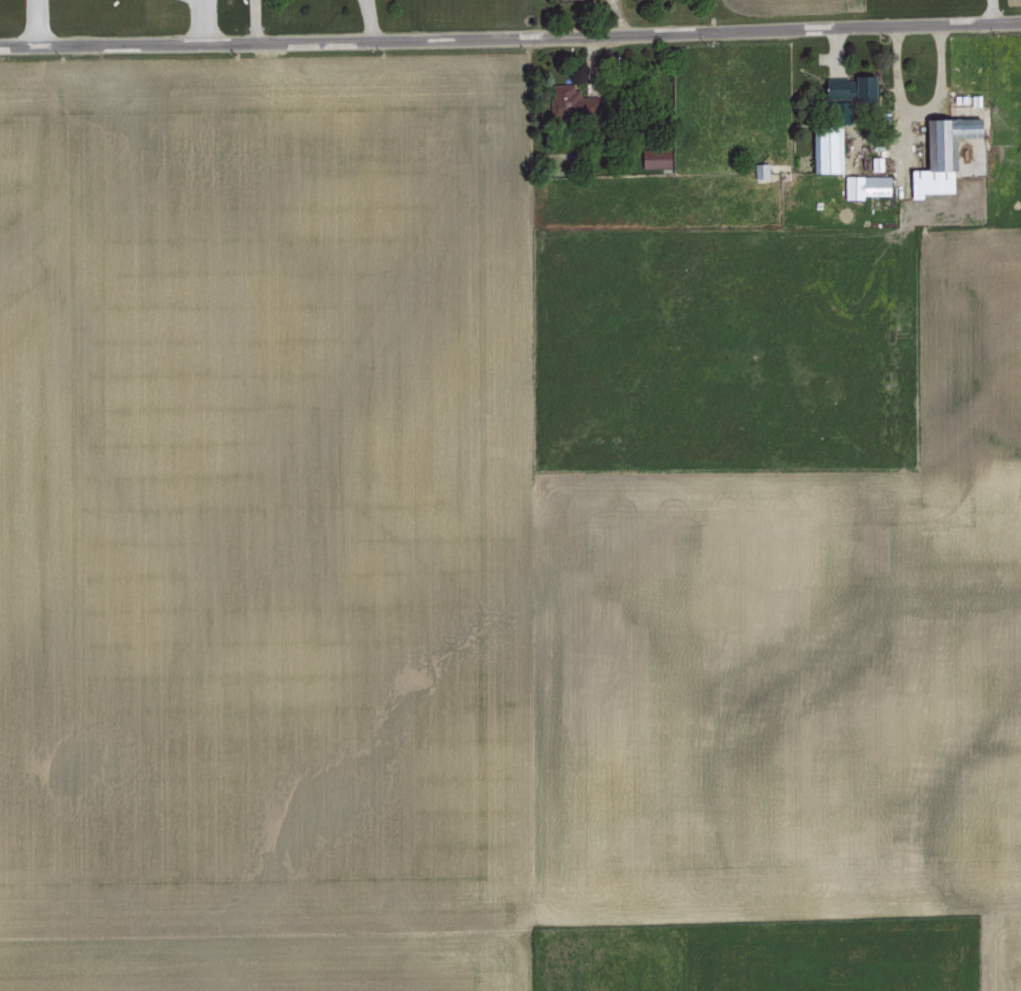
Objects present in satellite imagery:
road: (989, 10)
road: (253, 20)
road: (204, 21)
road: (35, 22)
road: (510, 36)
building: (848, 86)
road: (916, 113)
building: (824, 147)
building: (939, 153)
building: (654, 157)
building: (759, 168)
building: (864, 184)

